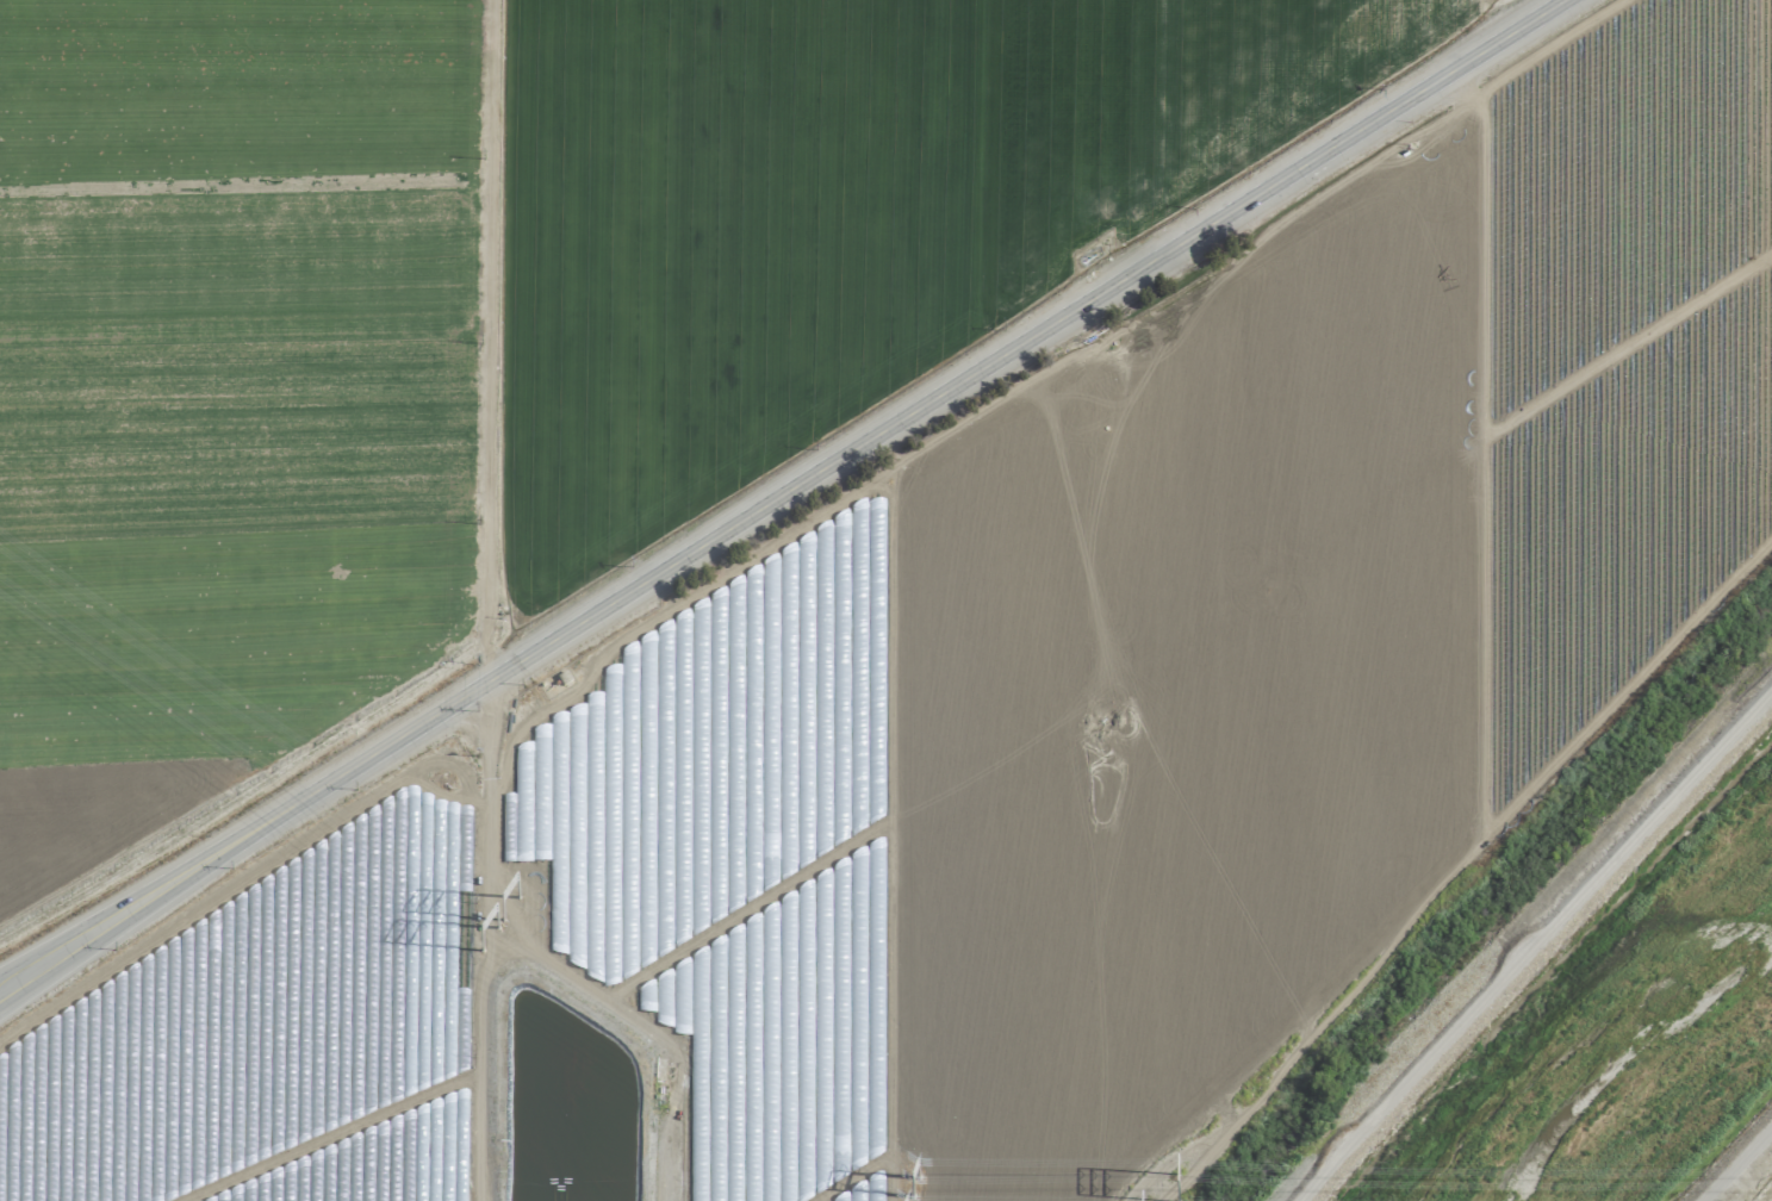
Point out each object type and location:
crop: (496, 316)
road: (779, 497)
crop: (1046, 708)
power tower: (521, 898)
power tower: (499, 929)
road: (487, 942)
river: (1655, 1074)
road: (1741, 1169)
power tower: (1173, 1183)
power tower: (918, 1190)
crop: (1766, 1195)

